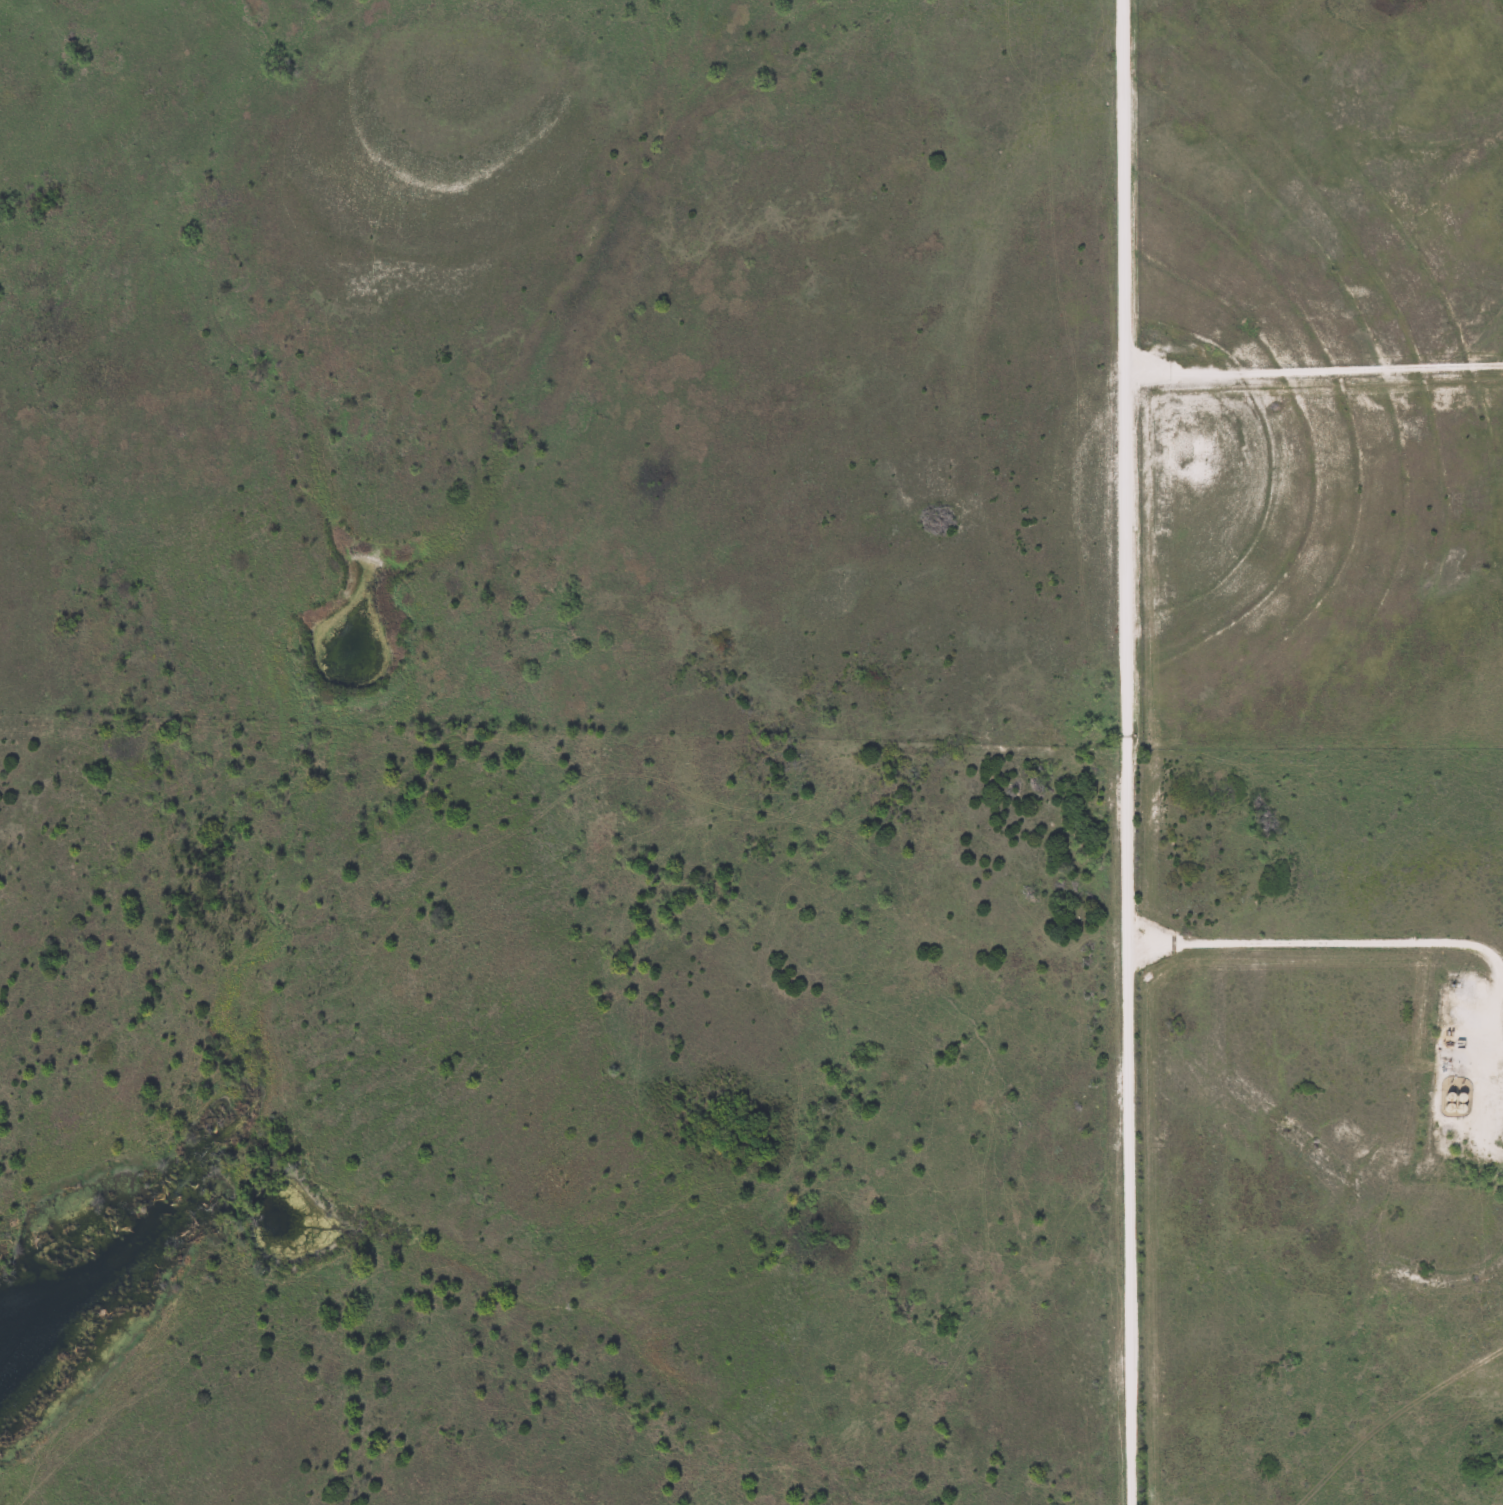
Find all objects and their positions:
road: (1312, 368)
road: (1123, 752)
road: (1364, 944)

